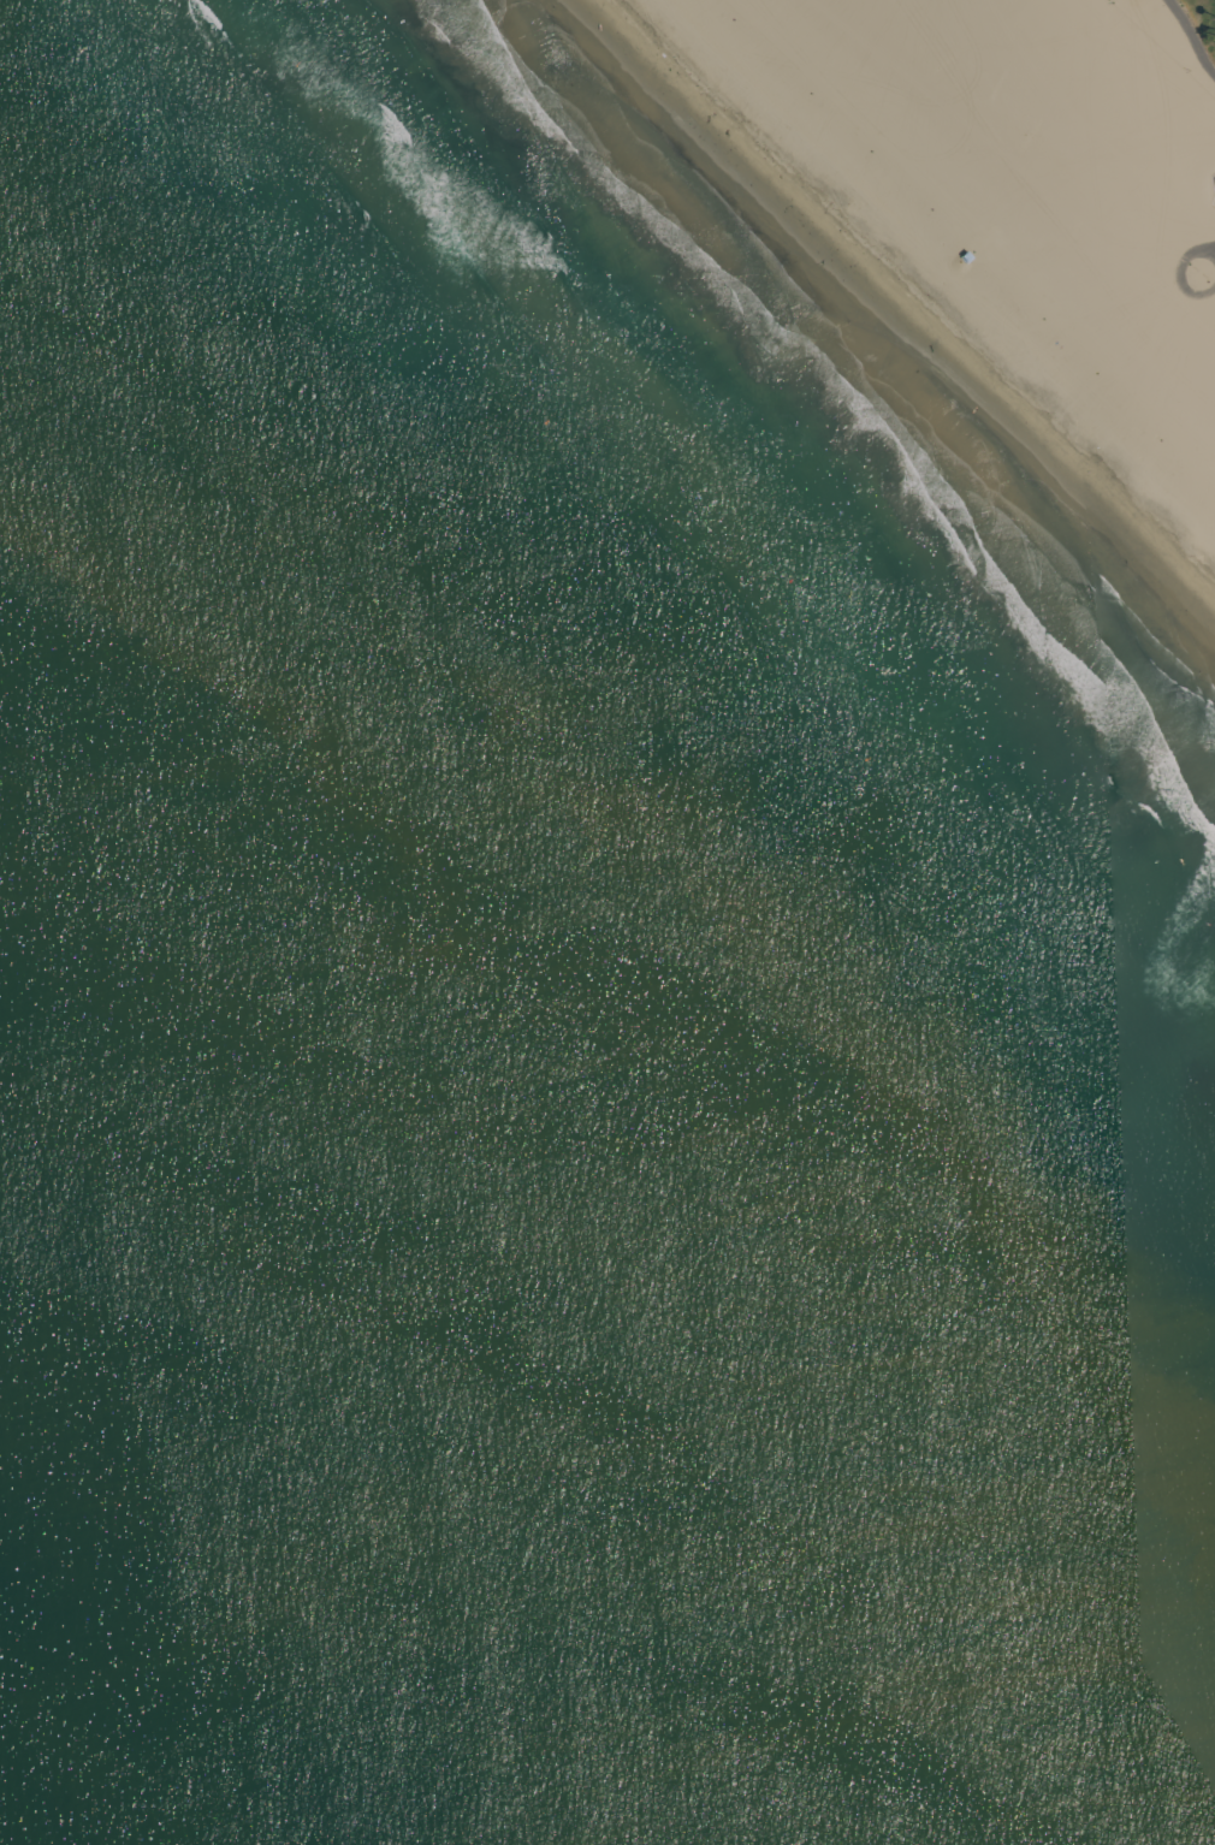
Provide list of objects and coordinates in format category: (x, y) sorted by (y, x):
road: (1191, 36)
building: (1003, 223)
road: (1214, 256)
road: (1180, 272)

